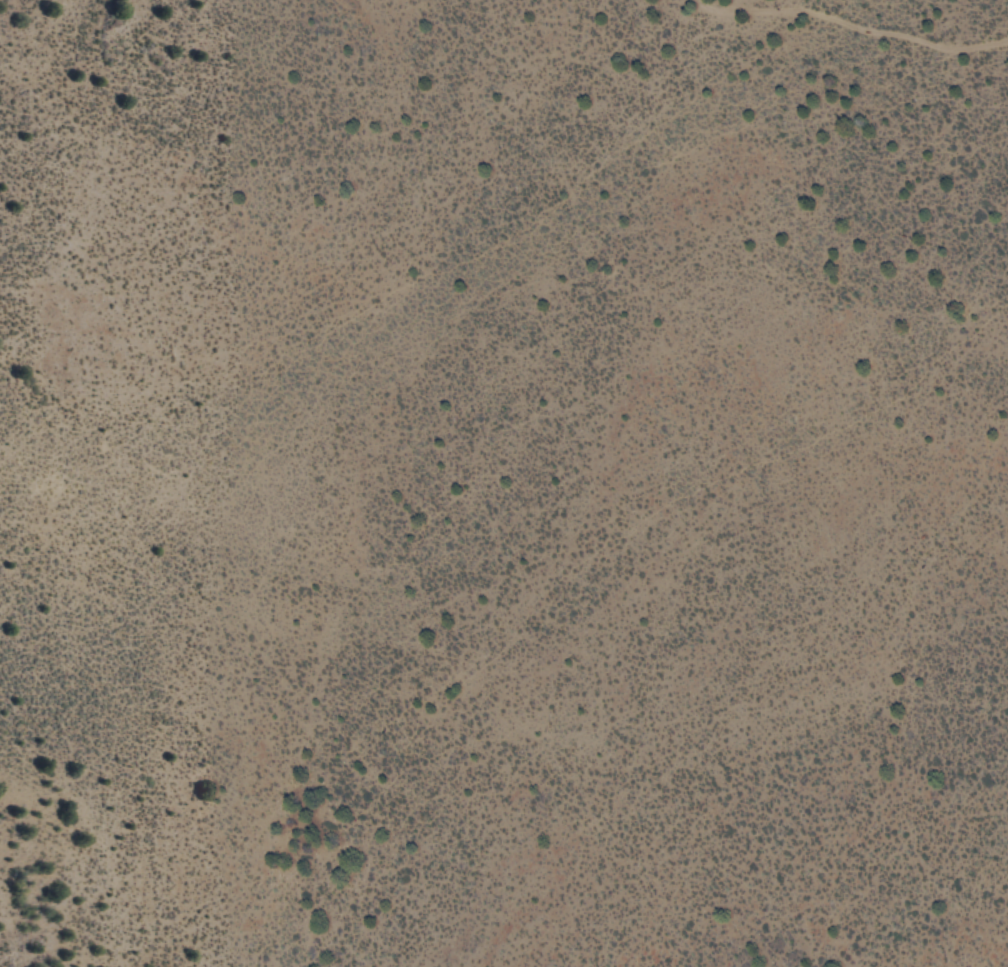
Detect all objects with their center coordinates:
road: (854, 18)

